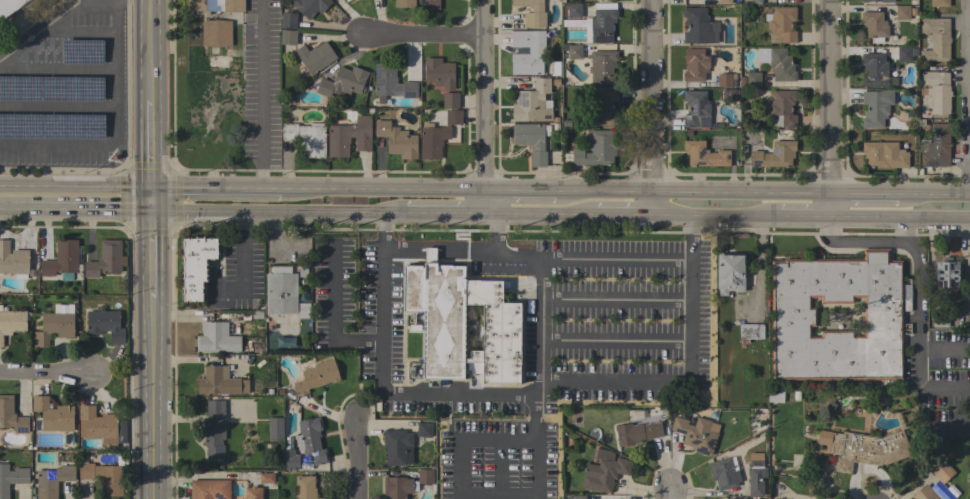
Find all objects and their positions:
building: (878, 0)
building: (751, 1)
building: (724, 2)
building: (404, 3)
building: (939, 3)
building: (428, 4)
building: (213, 5)
building: (309, 6)
building: (9, 7)
building: (574, 10)
building: (902, 12)
building: (532, 13)
building: (288, 20)
building: (600, 23)
building: (781, 25)
building: (874, 25)
building: (699, 26)
road: (41, 31)
building: (216, 33)
road: (421, 36)
building: (287, 37)
building: (935, 39)
building: (535, 51)
building: (574, 52)
building: (904, 53)
building: (315, 57)
building: (777, 63)
building: (695, 64)
building: (602, 67)
building: (875, 70)
building: (439, 73)
building: (726, 79)
building: (753, 79)
building: (342, 82)
building: (392, 82)
building: (51, 88)
building: (936, 90)
road: (260, 92)
building: (728, 95)
road: (830, 96)
road: (966, 97)
building: (449, 100)
building: (532, 102)
building: (603, 103)
road: (147, 105)
road: (484, 107)
building: (876, 107)
road: (652, 108)
building: (783, 108)
building: (696, 109)
building: (53, 125)
building: (437, 135)
building: (349, 137)
building: (306, 138)
building: (396, 140)
building: (531, 141)
building: (935, 146)
building: (597, 149)
building: (704, 154)
building: (774, 155)
building: (883, 155)
road: (74, 181)
traffic signals: (148, 183)
road: (214, 183)
road: (344, 186)
road: (445, 188)
road: (518, 188)
road: (604, 190)
road: (742, 192)
road: (863, 193)
road: (932, 194)
road: (831, 204)
road: (73, 208)
traffic signals: (147, 210)
road: (265, 211)
road: (437, 213)
road: (542, 214)
road: (624, 215)
road: (674, 216)
road: (734, 216)
road: (803, 216)
road: (871, 217)
road: (940, 218)
road: (383, 230)
road: (493, 231)
road: (909, 231)
road: (856, 243)
building: (62, 258)
building: (105, 259)
road: (620, 259)
building: (13, 261)
building: (196, 265)
building: (729, 273)
building: (946, 273)
building: (280, 293)
road: (619, 298)
building: (62, 308)
building: (303, 310)
road: (917, 314)
road: (332, 316)
building: (793, 317)
building: (940, 320)
building: (11, 323)
building: (462, 323)
building: (105, 324)
building: (54, 328)
building: (750, 332)
building: (216, 338)
road: (619, 340)
road: (147, 354)
road: (46, 375)
building: (316, 377)
road: (553, 380)
building: (220, 382)
road: (393, 390)
building: (775, 395)
building: (53, 415)
building: (11, 416)
building: (98, 425)
building: (213, 429)
building: (275, 429)
building: (424, 430)
building: (636, 432)
building: (697, 434)
building: (311, 440)
building: (396, 446)
building: (866, 450)
building: (600, 454)
road: (358, 458)
building: (291, 460)
building: (941, 471)
building: (604, 474)
building: (723, 474)
building: (755, 474)
building: (105, 476)
building: (424, 477)
building: (11, 478)
building: (266, 478)
building: (52, 481)
building: (304, 487)
building: (396, 487)
building: (209, 489)
building: (253, 493)
building: (924, 493)
road: (667, 495)
road: (493, 496)
building: (578, 497)
building: (742, 498)

